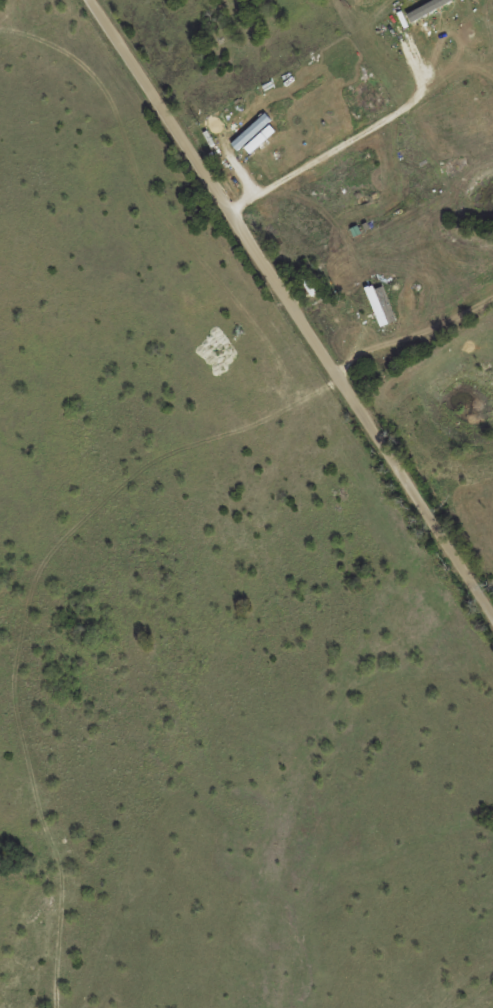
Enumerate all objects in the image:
building: (327, 175)
road: (290, 312)
road: (422, 371)

